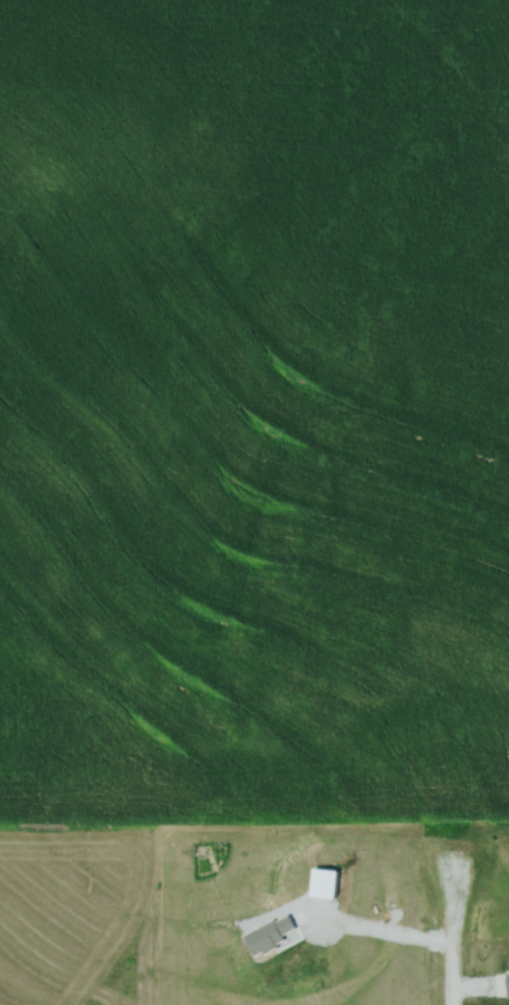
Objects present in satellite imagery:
road: (382, 928)
road: (454, 937)

